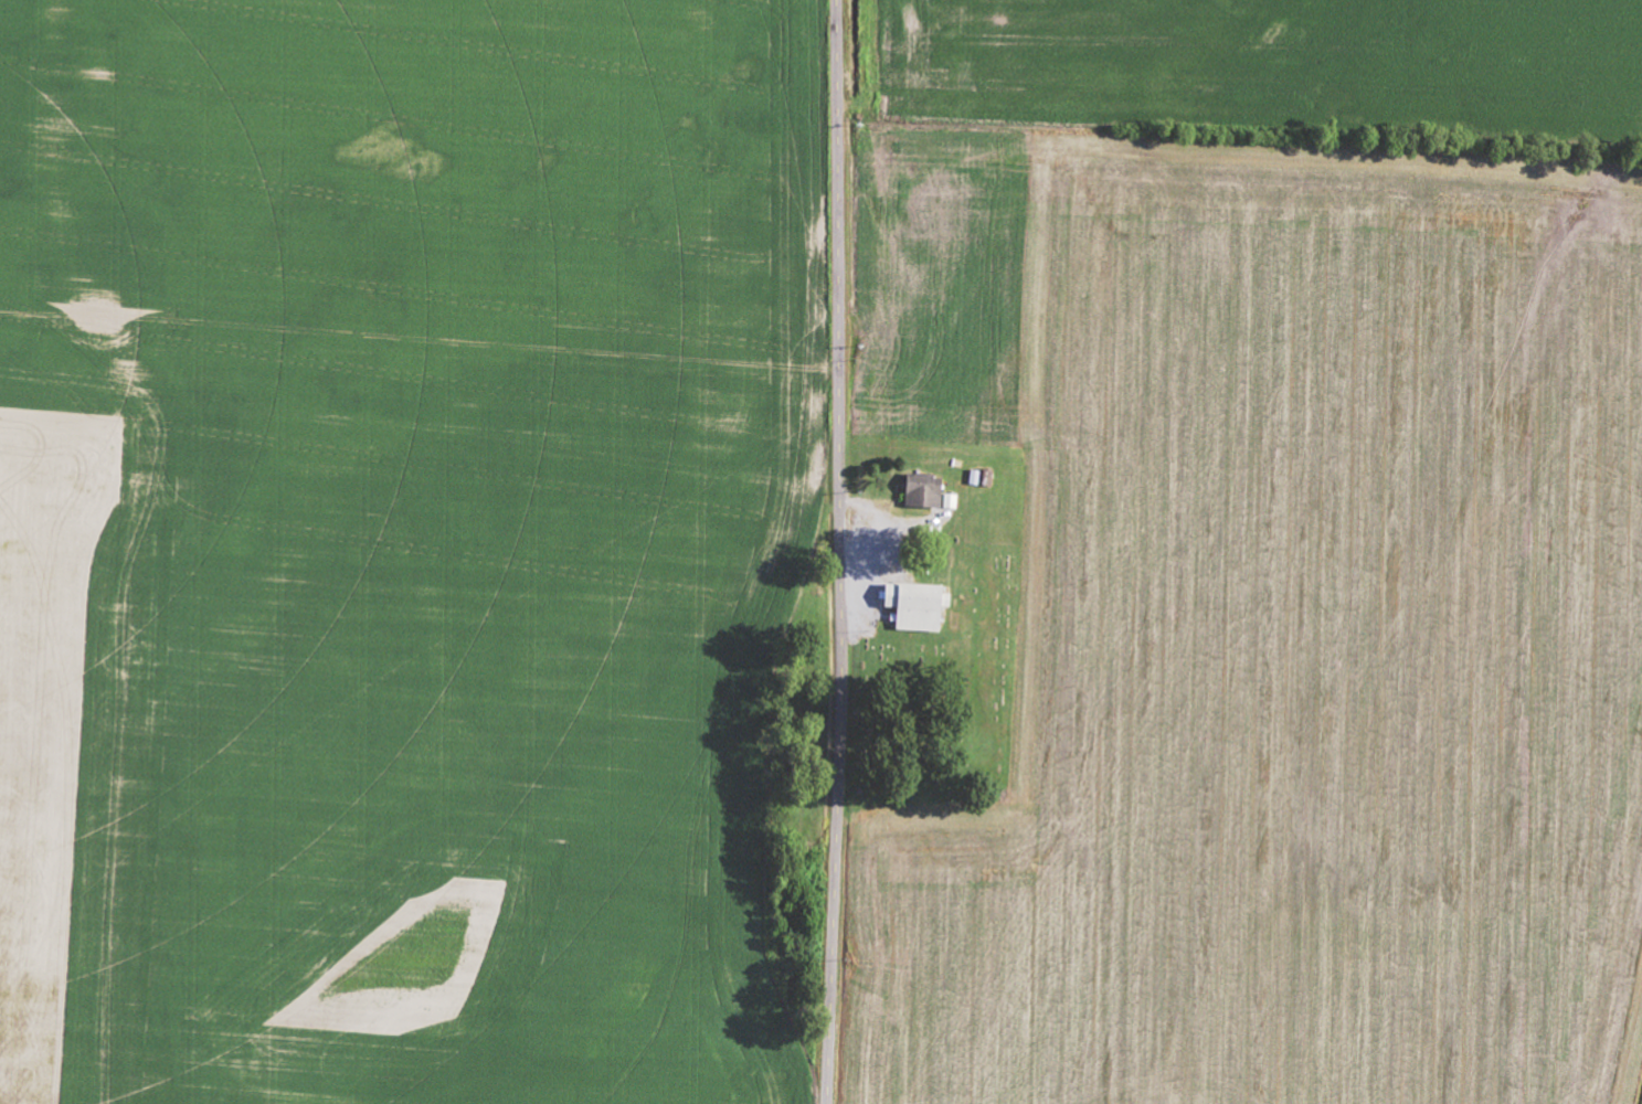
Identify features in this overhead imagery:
road: (422, 266)
road: (843, 552)
park: (942, 691)

